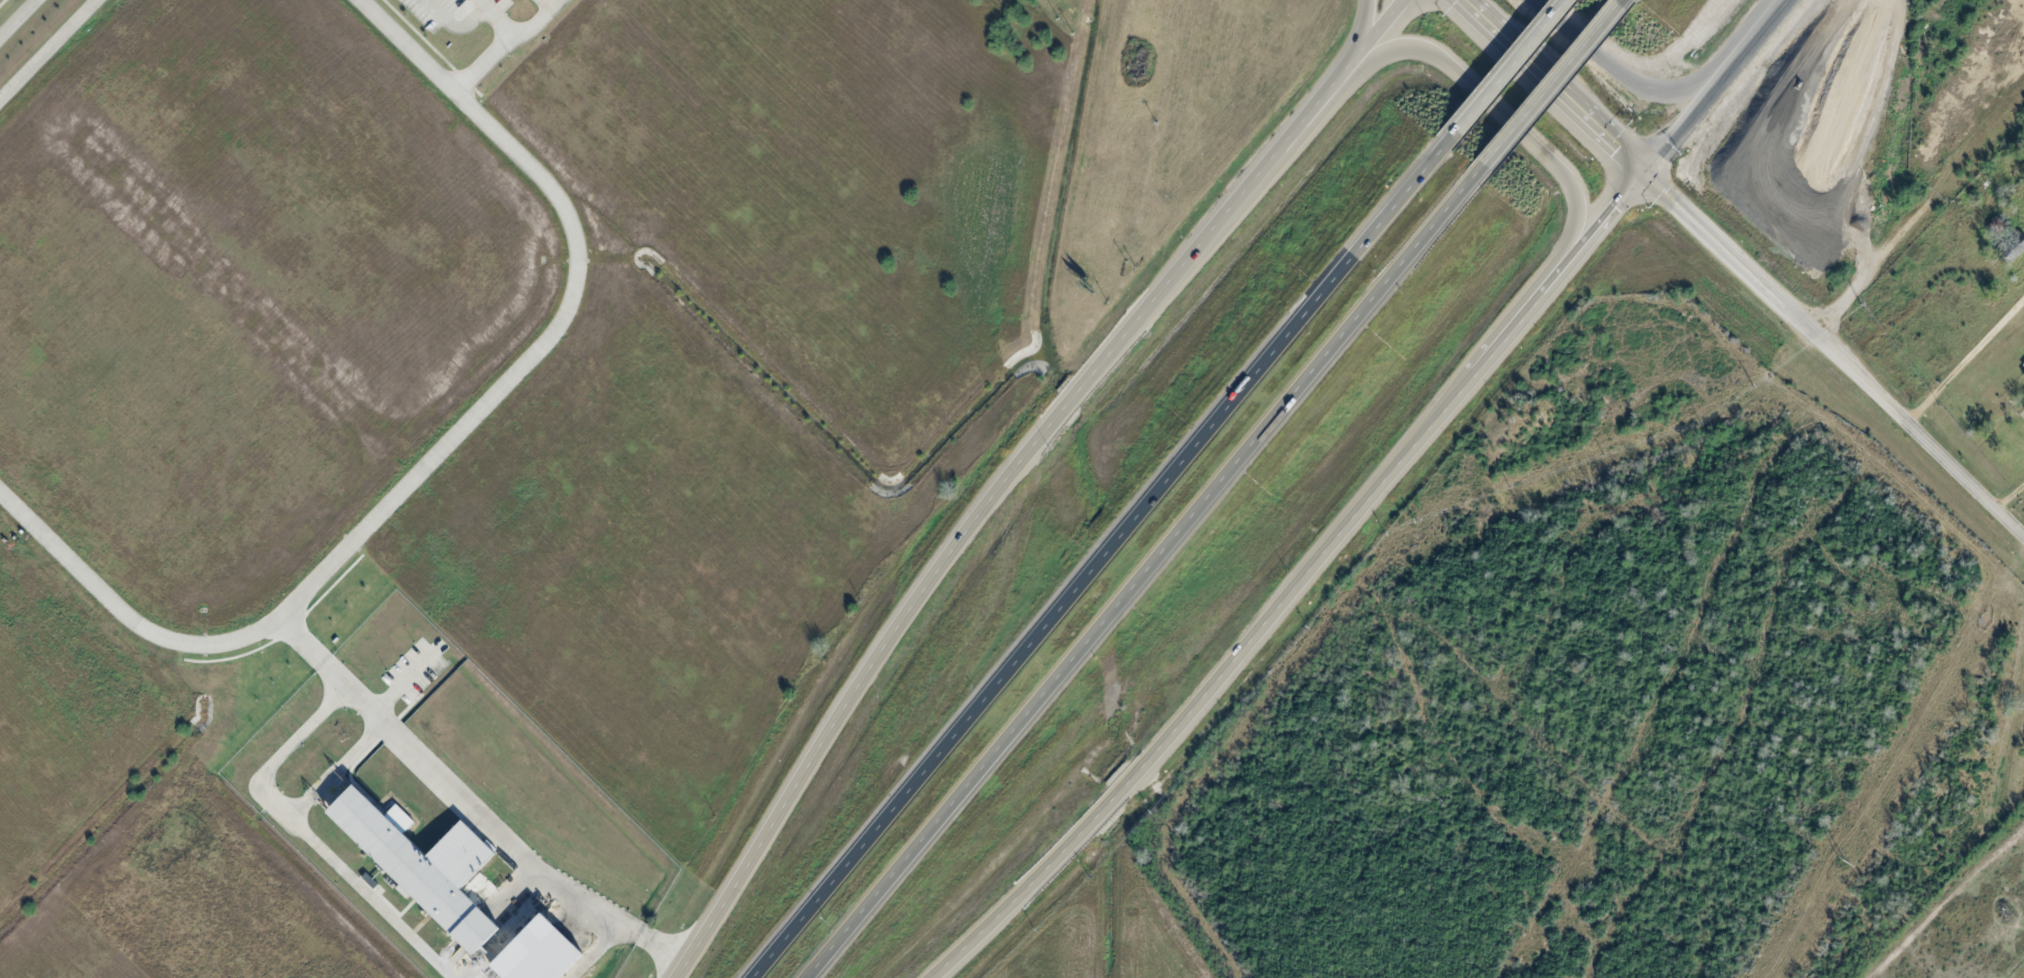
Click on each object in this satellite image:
building: (525, 0)
road: (1620, 2)
road: (16, 17)
road: (1363, 37)
road: (503, 42)
road: (48, 49)
road: (1509, 65)
road: (1623, 68)
road: (1553, 84)
road: (1549, 85)
road: (1497, 111)
road: (1832, 350)
road: (1965, 358)
building: (2022, 374)
building: (2023, 411)
road: (442, 445)
road: (1017, 471)
road: (1367, 499)
road: (1104, 554)
road: (1147, 571)
road: (466, 805)
power tower: (1842, 863)
building: (412, 866)
building: (537, 952)

